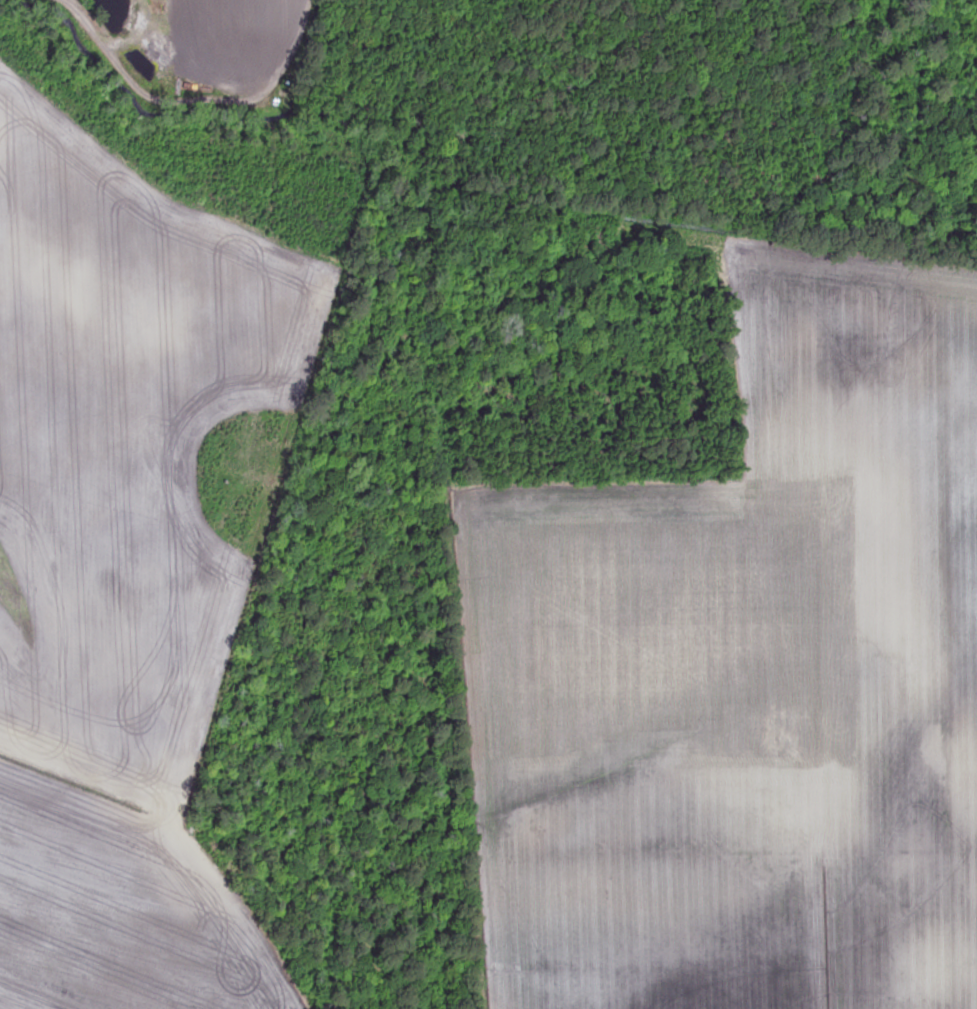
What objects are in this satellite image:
road: (454, 749)

